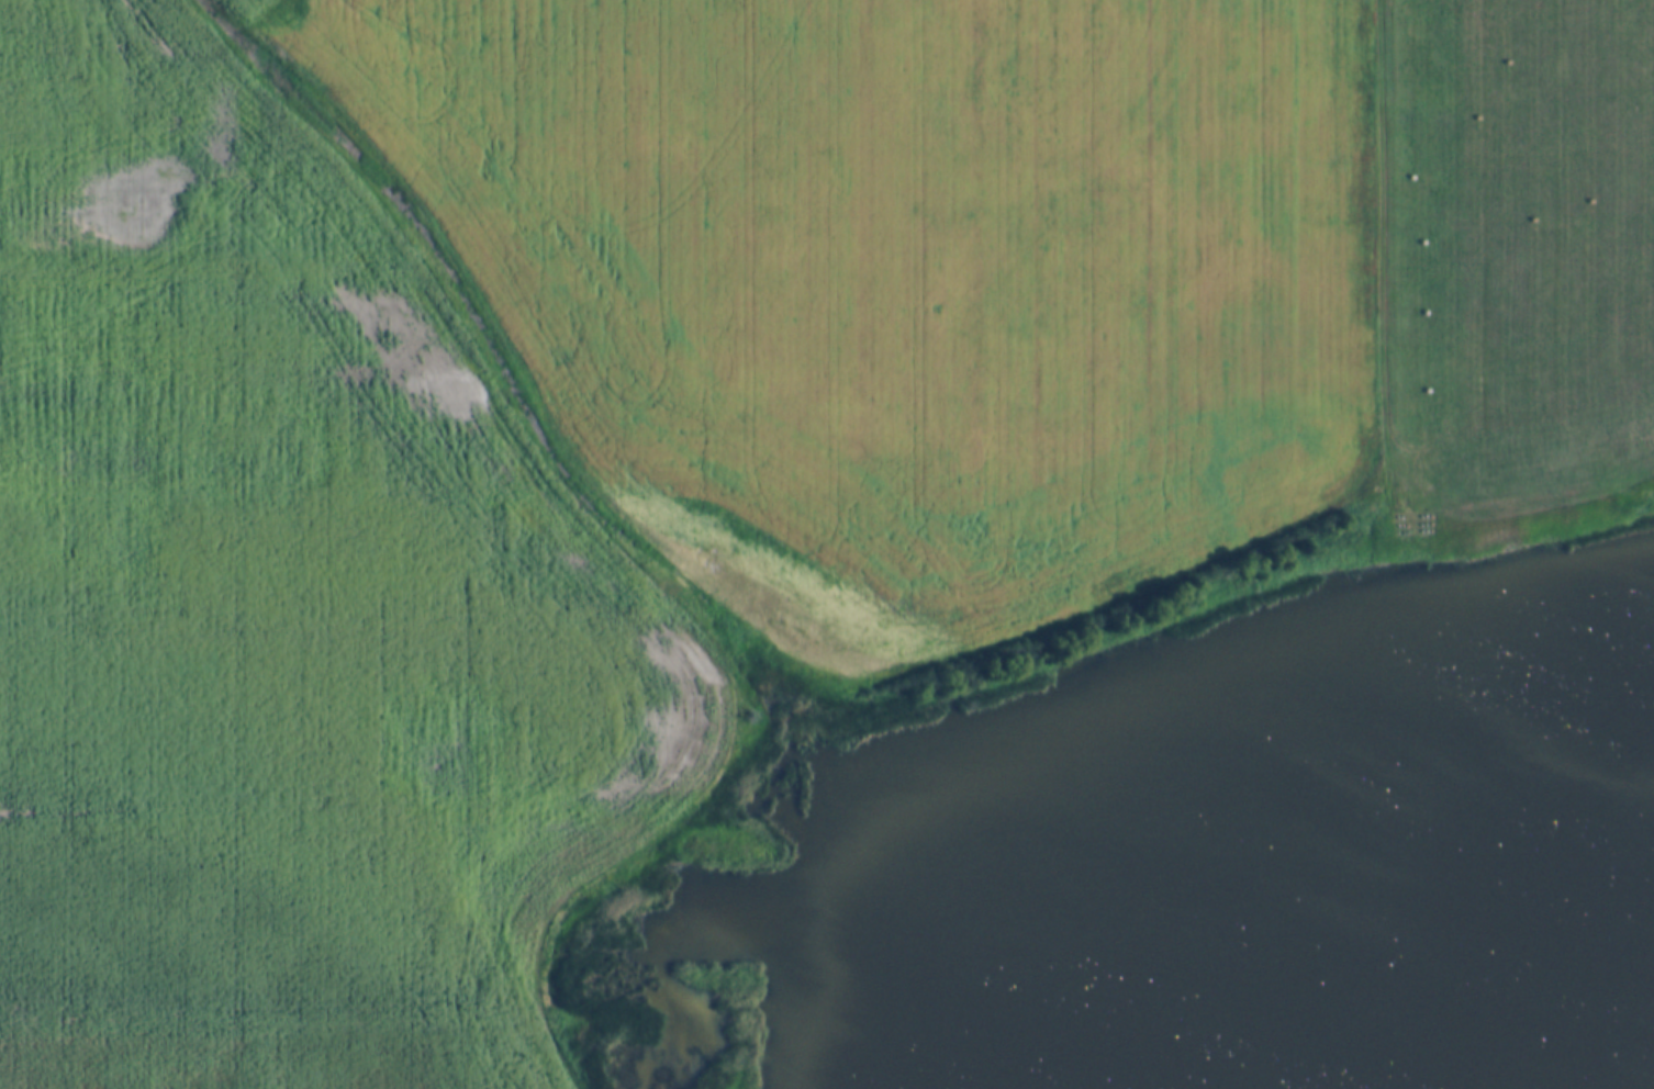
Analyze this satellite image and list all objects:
road: (1377, 228)

